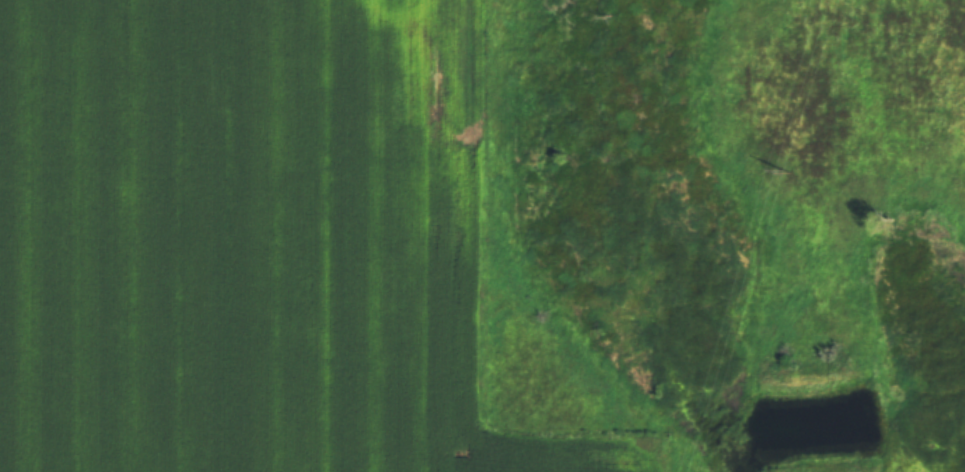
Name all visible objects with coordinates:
power tower: (785, 171)

